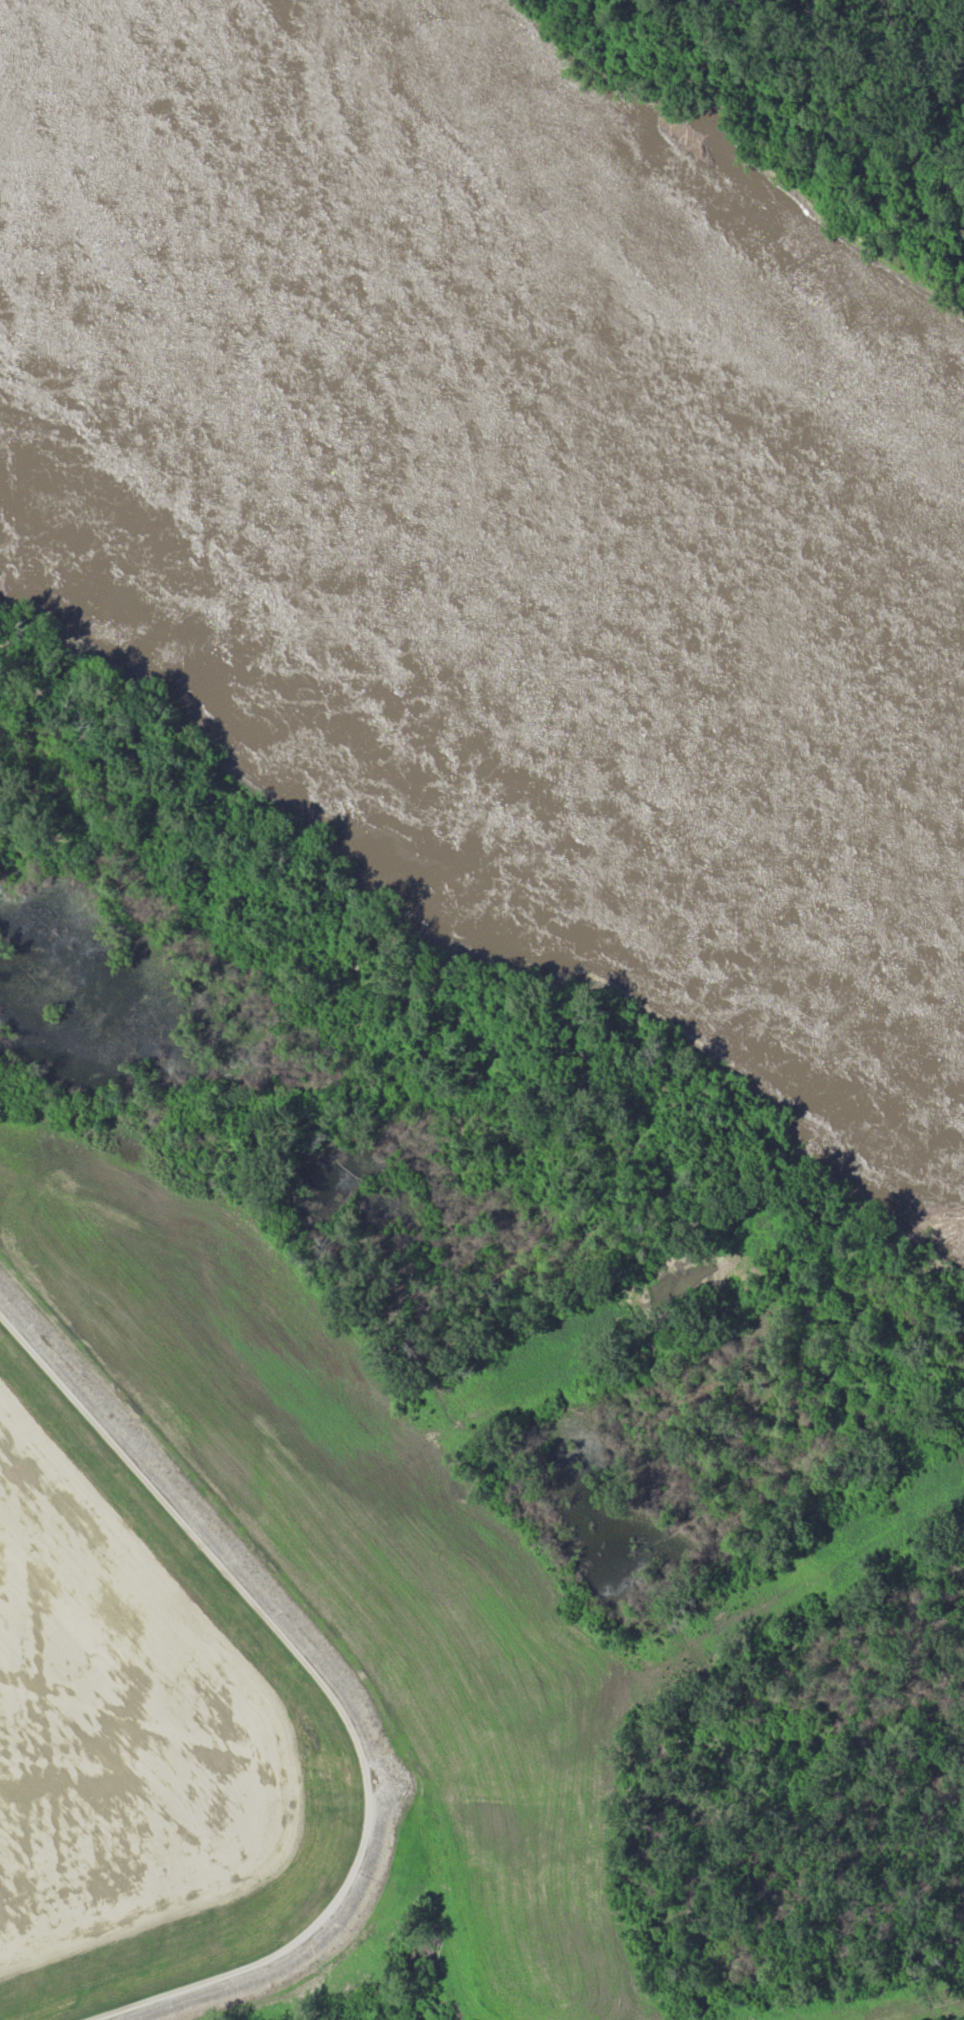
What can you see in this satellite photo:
river: (482, 460)
crop: (50, 1525)
crop: (360, 1541)
road: (332, 1697)

